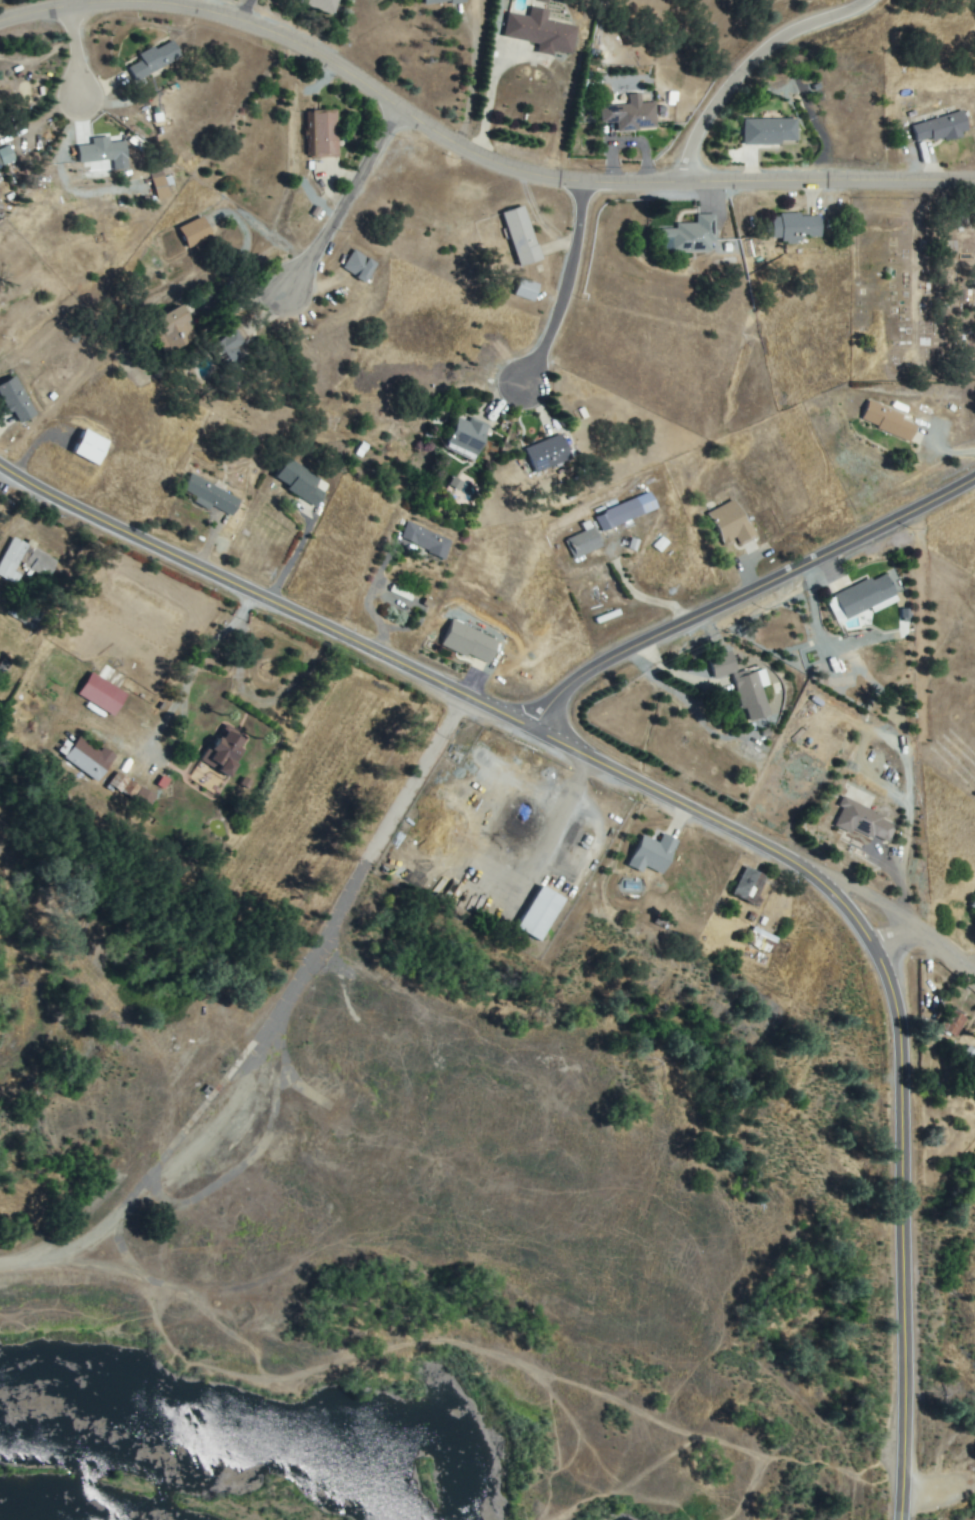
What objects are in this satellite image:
building: (440, 0)
building: (327, 4)
building: (541, 32)
road: (79, 56)
building: (154, 60)
road: (754, 66)
road: (493, 78)
building: (630, 115)
building: (940, 128)
building: (769, 131)
building: (323, 134)
building: (103, 150)
road: (470, 150)
building: (5, 156)
building: (158, 186)
road: (346, 205)
building: (793, 227)
building: (195, 232)
building: (690, 236)
building: (521, 237)
building: (358, 266)
building: (526, 290)
road: (566, 292)
building: (173, 328)
building: (229, 352)
building: (15, 399)
building: (888, 421)
building: (465, 437)
building: (90, 446)
building: (547, 453)
building: (296, 482)
building: (454, 484)
building: (213, 496)
building: (626, 511)
building: (727, 521)
building: (427, 539)
building: (584, 541)
building: (659, 543)
road: (291, 557)
building: (25, 560)
road: (746, 595)
building: (862, 597)
road: (367, 599)
building: (24, 609)
building: (468, 639)
building: (721, 664)
road: (196, 665)
road: (682, 675)
building: (101, 693)
building: (752, 694)
building: (225, 750)
building: (87, 758)
building: (132, 791)
road: (708, 817)
building: (863, 821)
building: (653, 853)
building: (749, 886)
building: (973, 903)
road: (885, 904)
building: (540, 913)
road: (326, 931)
road: (903, 935)
building: (758, 938)
building: (952, 1022)

